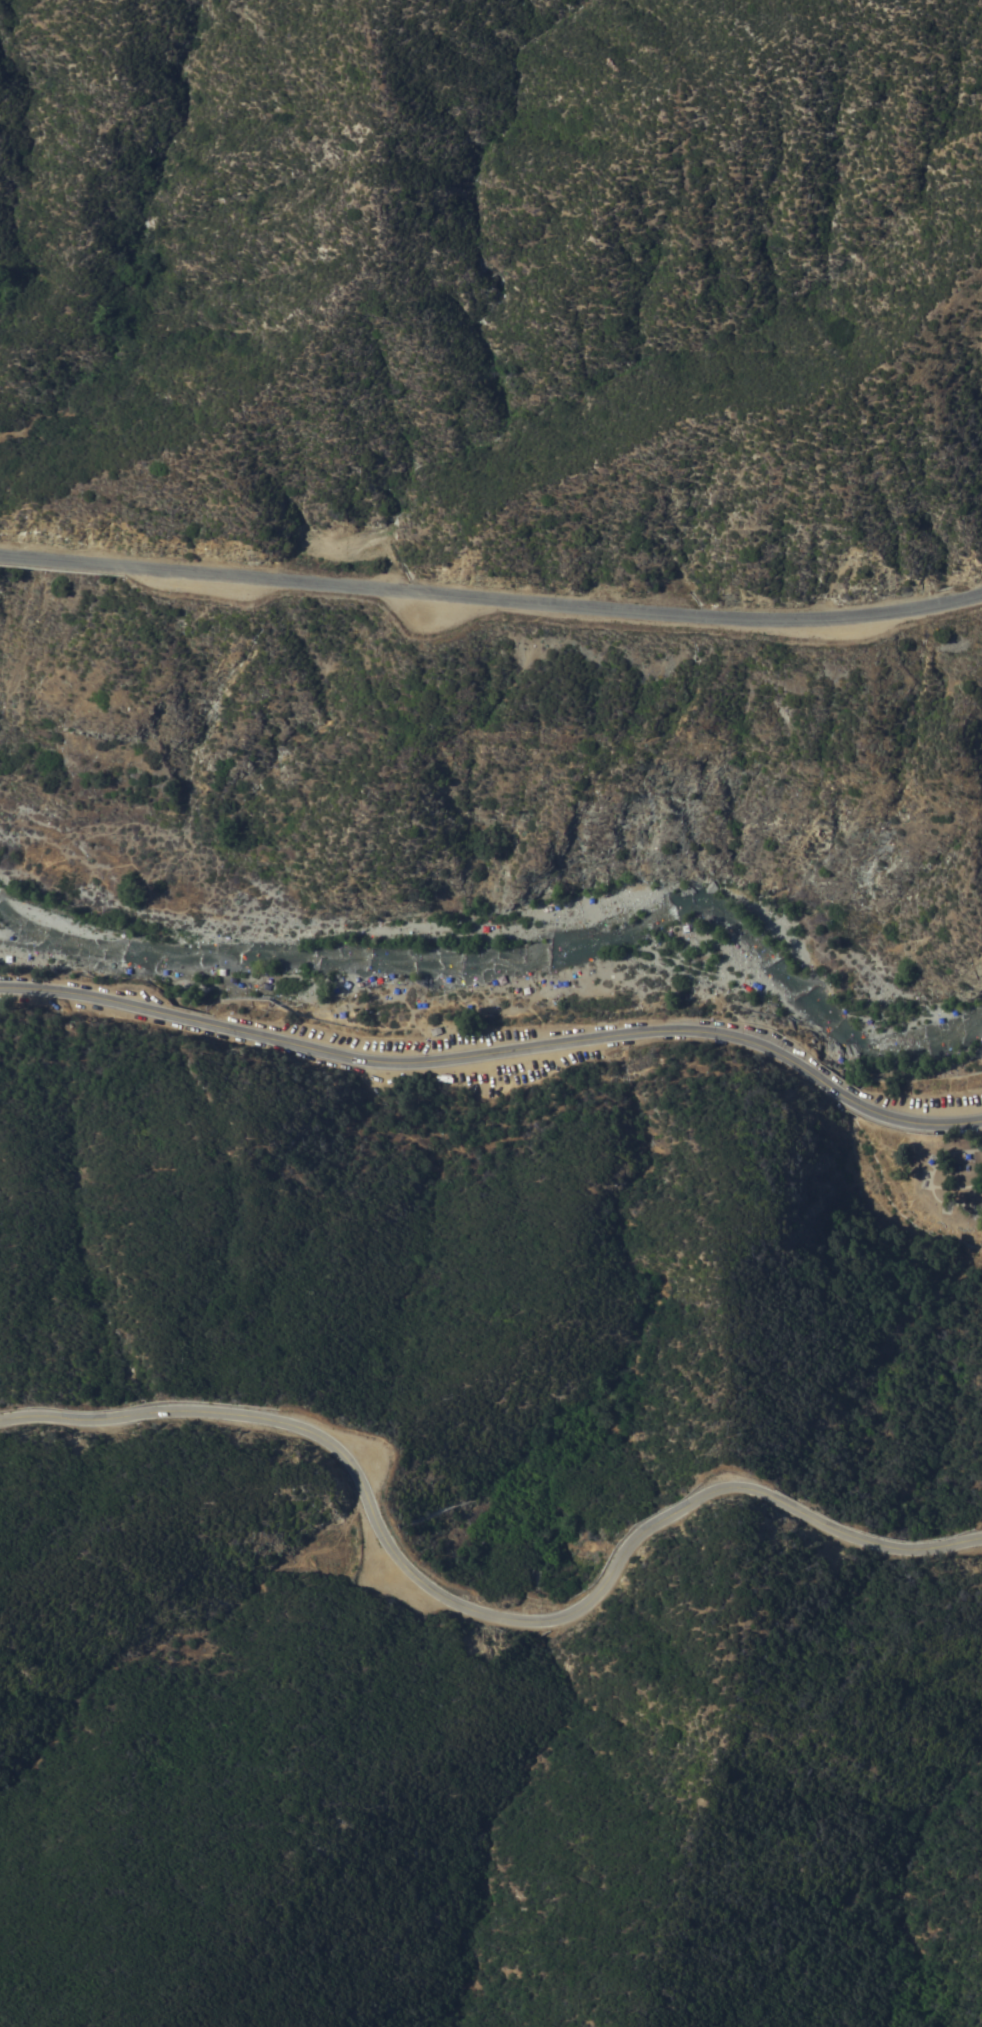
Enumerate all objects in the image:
road: (491, 604)
river: (520, 953)
building: (436, 1033)
parking lot: (449, 1060)
road: (412, 1062)
road: (840, 1094)
parking lot: (926, 1104)
road: (921, 1123)
parking lot: (978, 1528)
parking lot: (394, 1573)
road: (477, 1614)

